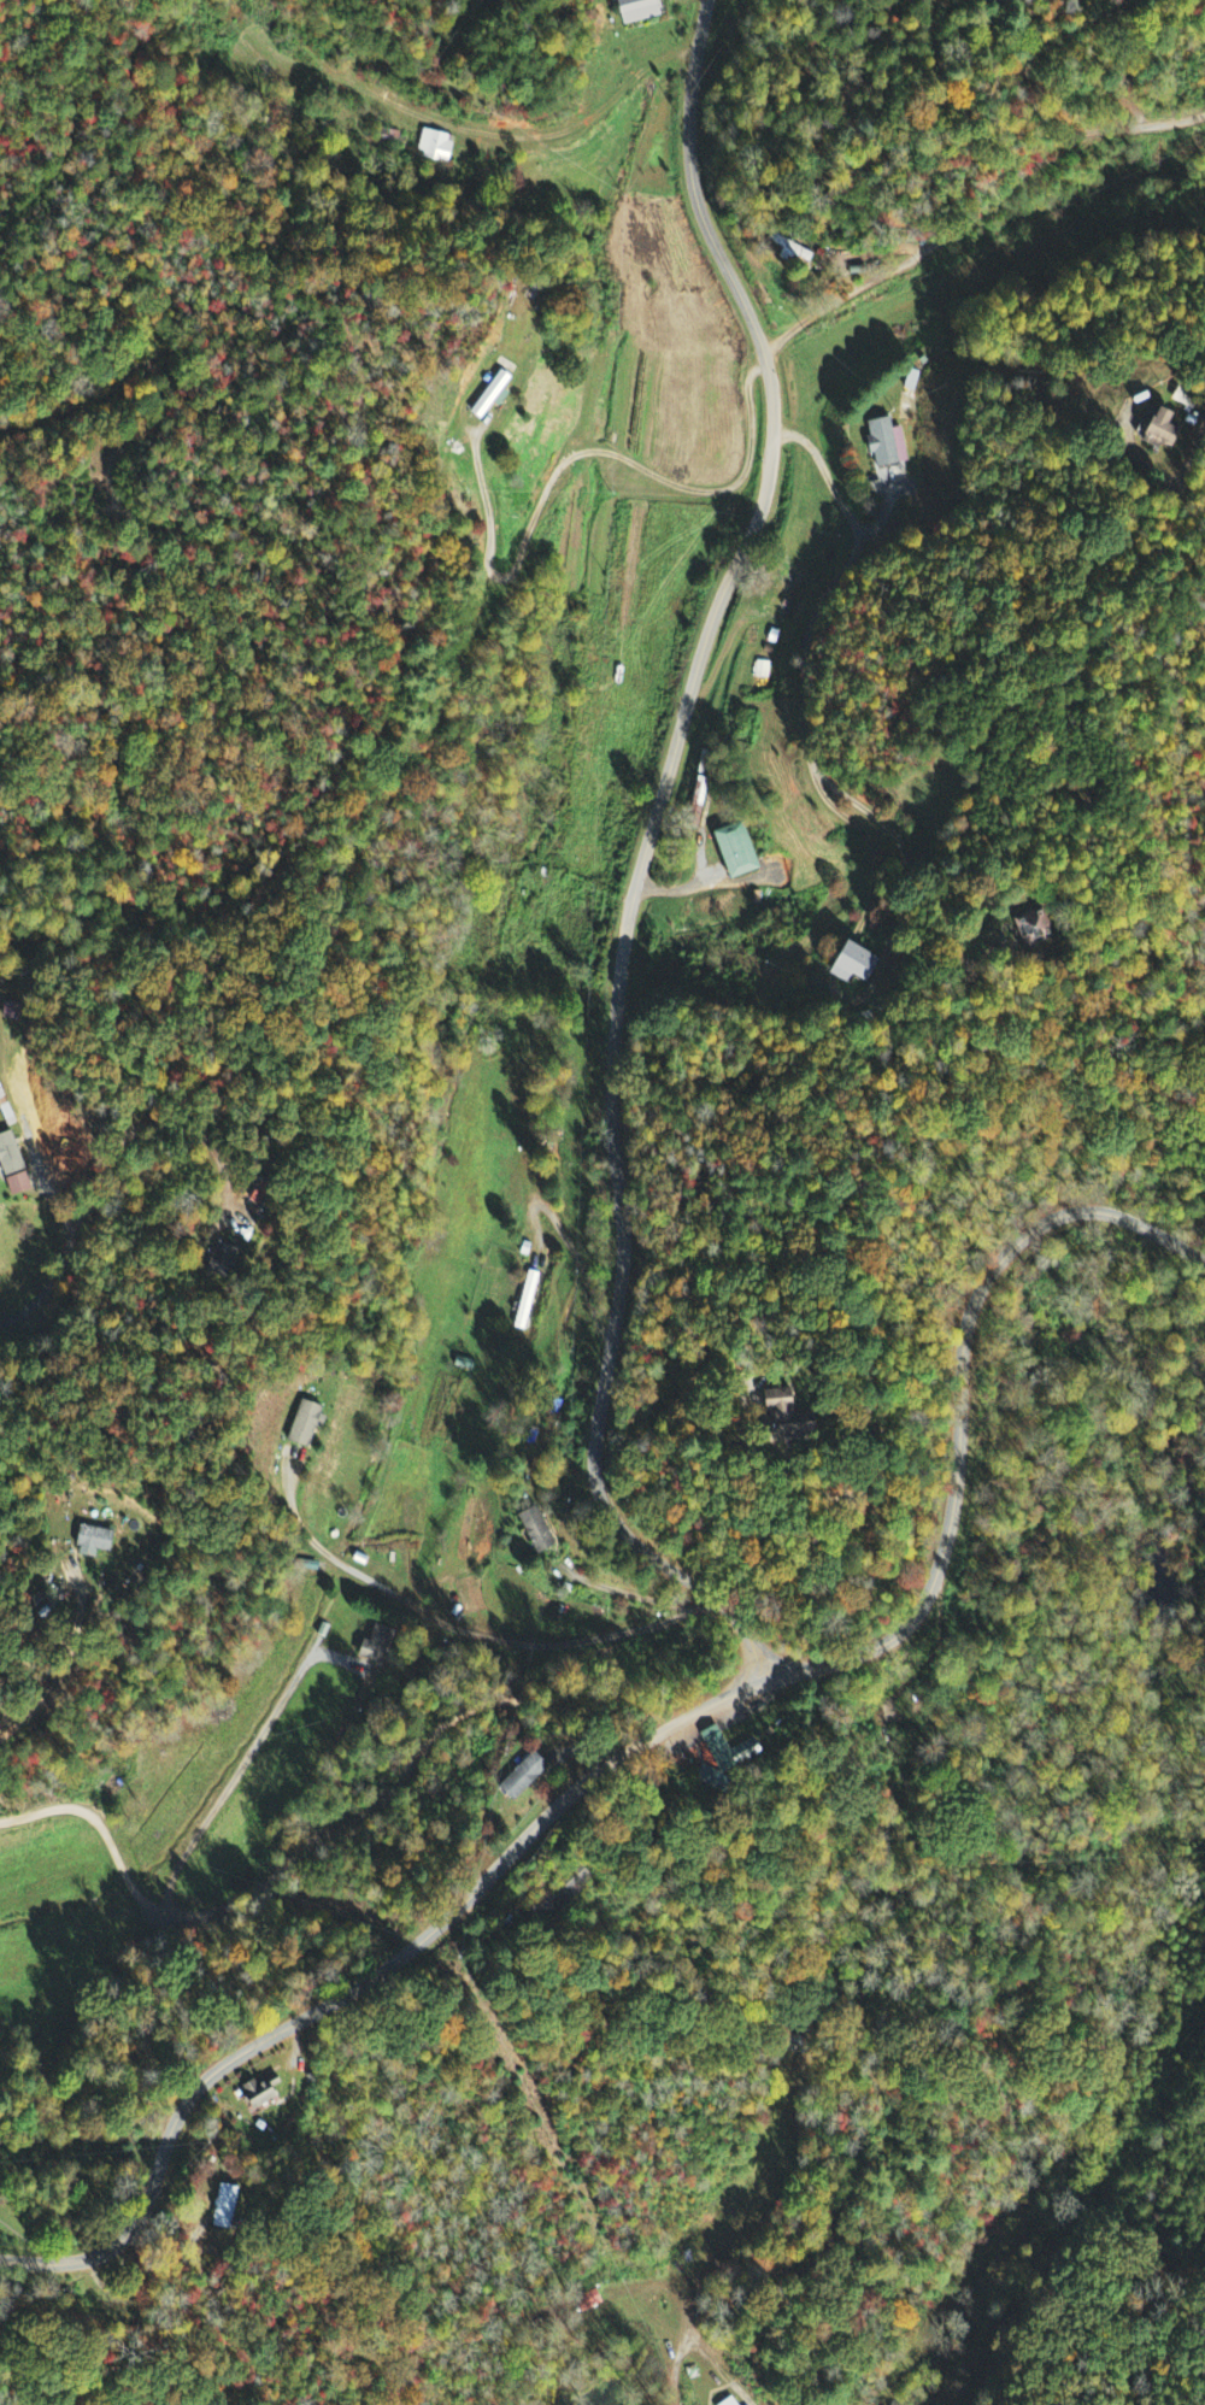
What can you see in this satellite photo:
building: (642, 11)
building: (434, 147)
road: (977, 212)
building: (495, 395)
building: (1187, 400)
building: (1164, 430)
building: (890, 445)
road: (574, 460)
road: (1176, 487)
road: (889, 528)
road: (892, 840)
building: (736, 851)
road: (642, 859)
building: (1034, 929)
building: (853, 965)
building: (14, 1166)
road: (566, 1243)
building: (228, 1260)
building: (524, 1299)
building: (308, 1423)
building: (533, 1529)
building: (98, 1542)
road: (629, 1594)
road: (490, 1637)
building: (376, 1645)
road: (660, 1730)
building: (711, 1741)
building: (515, 1777)
road: (315, 1828)
building: (265, 2093)
building: (234, 2207)
building: (588, 2303)
building: (729, 2401)

